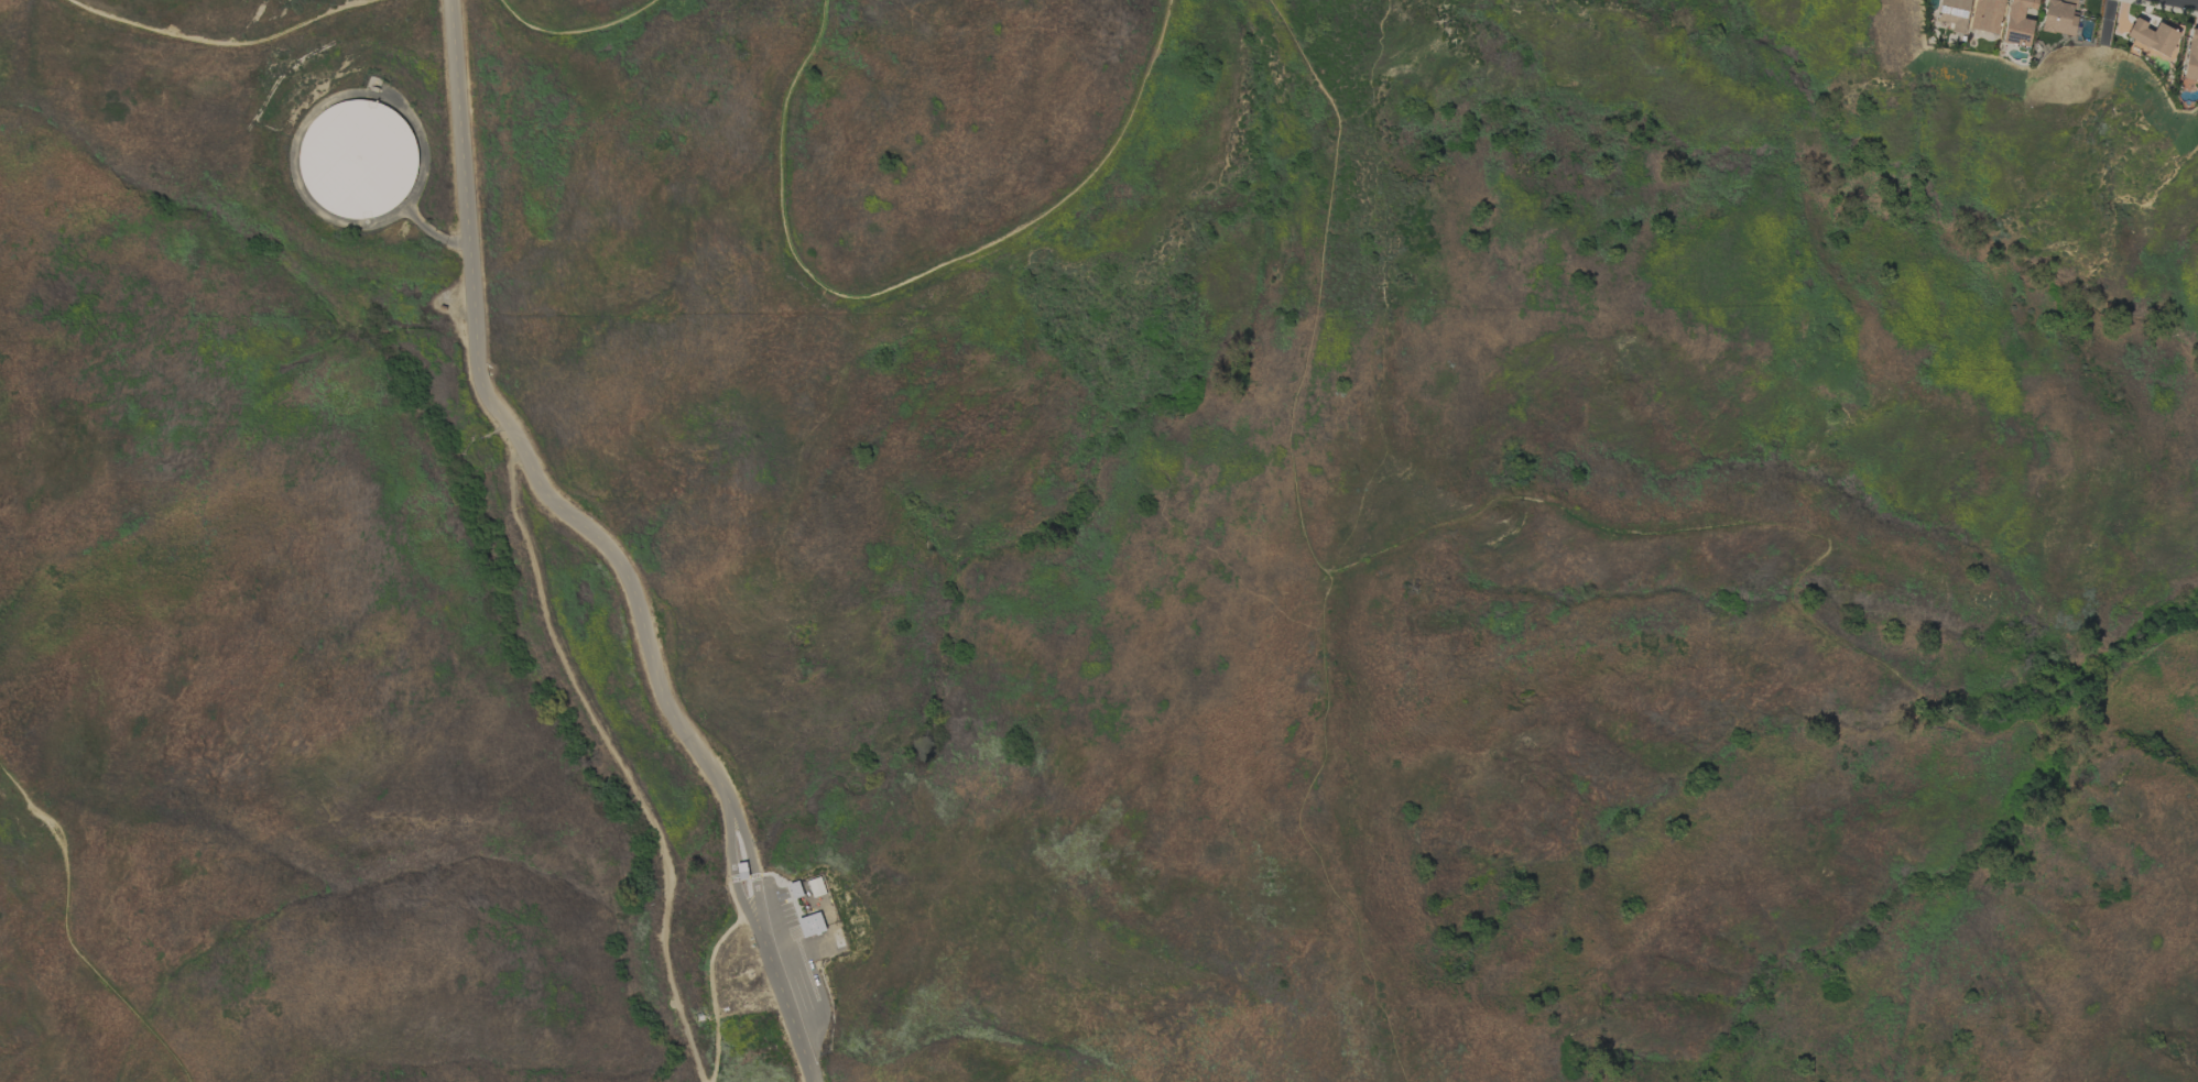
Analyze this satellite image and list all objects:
road: (2196, 0)
building: (1987, 15)
building: (2059, 17)
building: (2019, 21)
road: (556, 32)
building: (2153, 36)
road: (218, 40)
building: (2191, 57)
water tower: (358, 161)
road: (918, 287)
toll booth: (475, 318)
road: (510, 433)
road: (1309, 549)
road: (1809, 569)
road: (623, 757)
road: (729, 808)
building: (816, 887)
building: (795, 889)
building: (810, 925)
road: (67, 935)
road: (710, 990)
road: (786, 1006)

